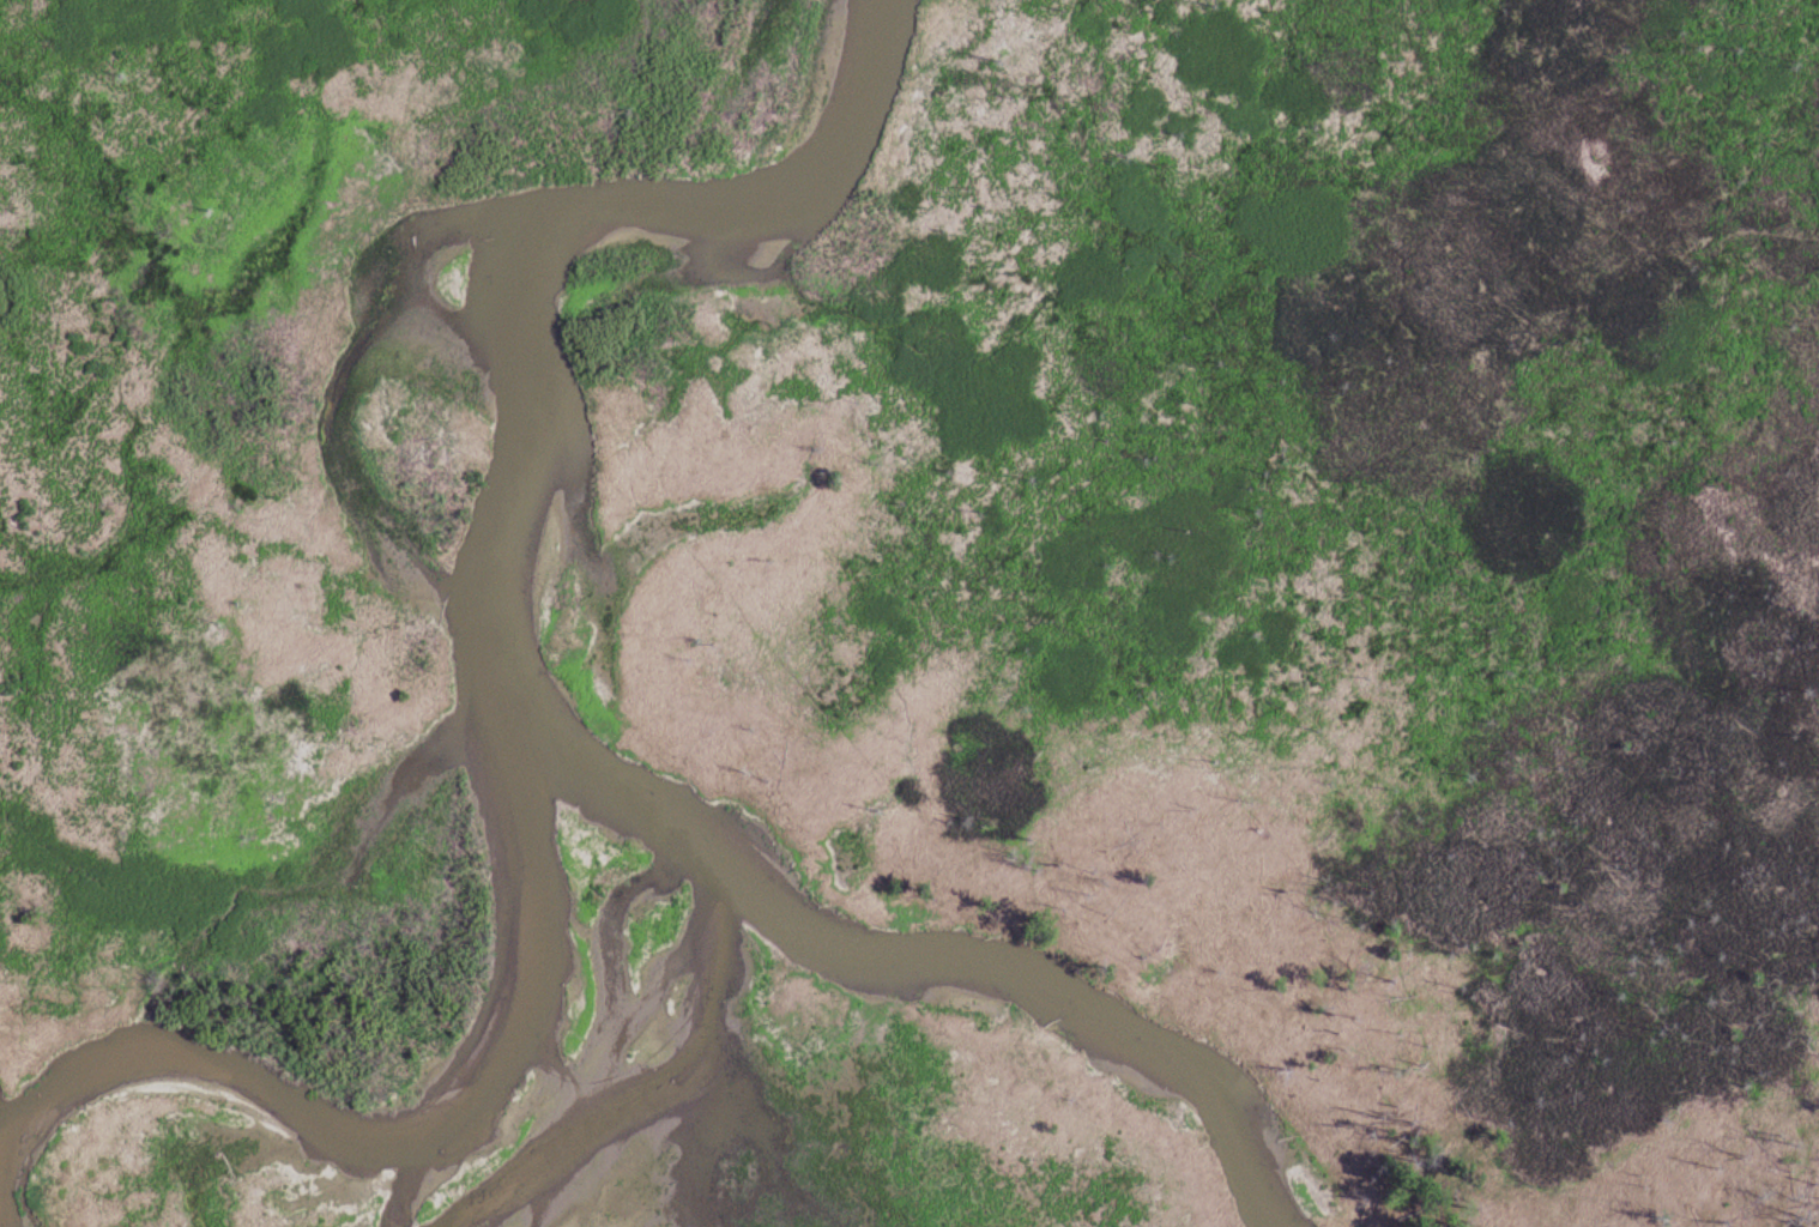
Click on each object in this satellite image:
river: (502, 731)

